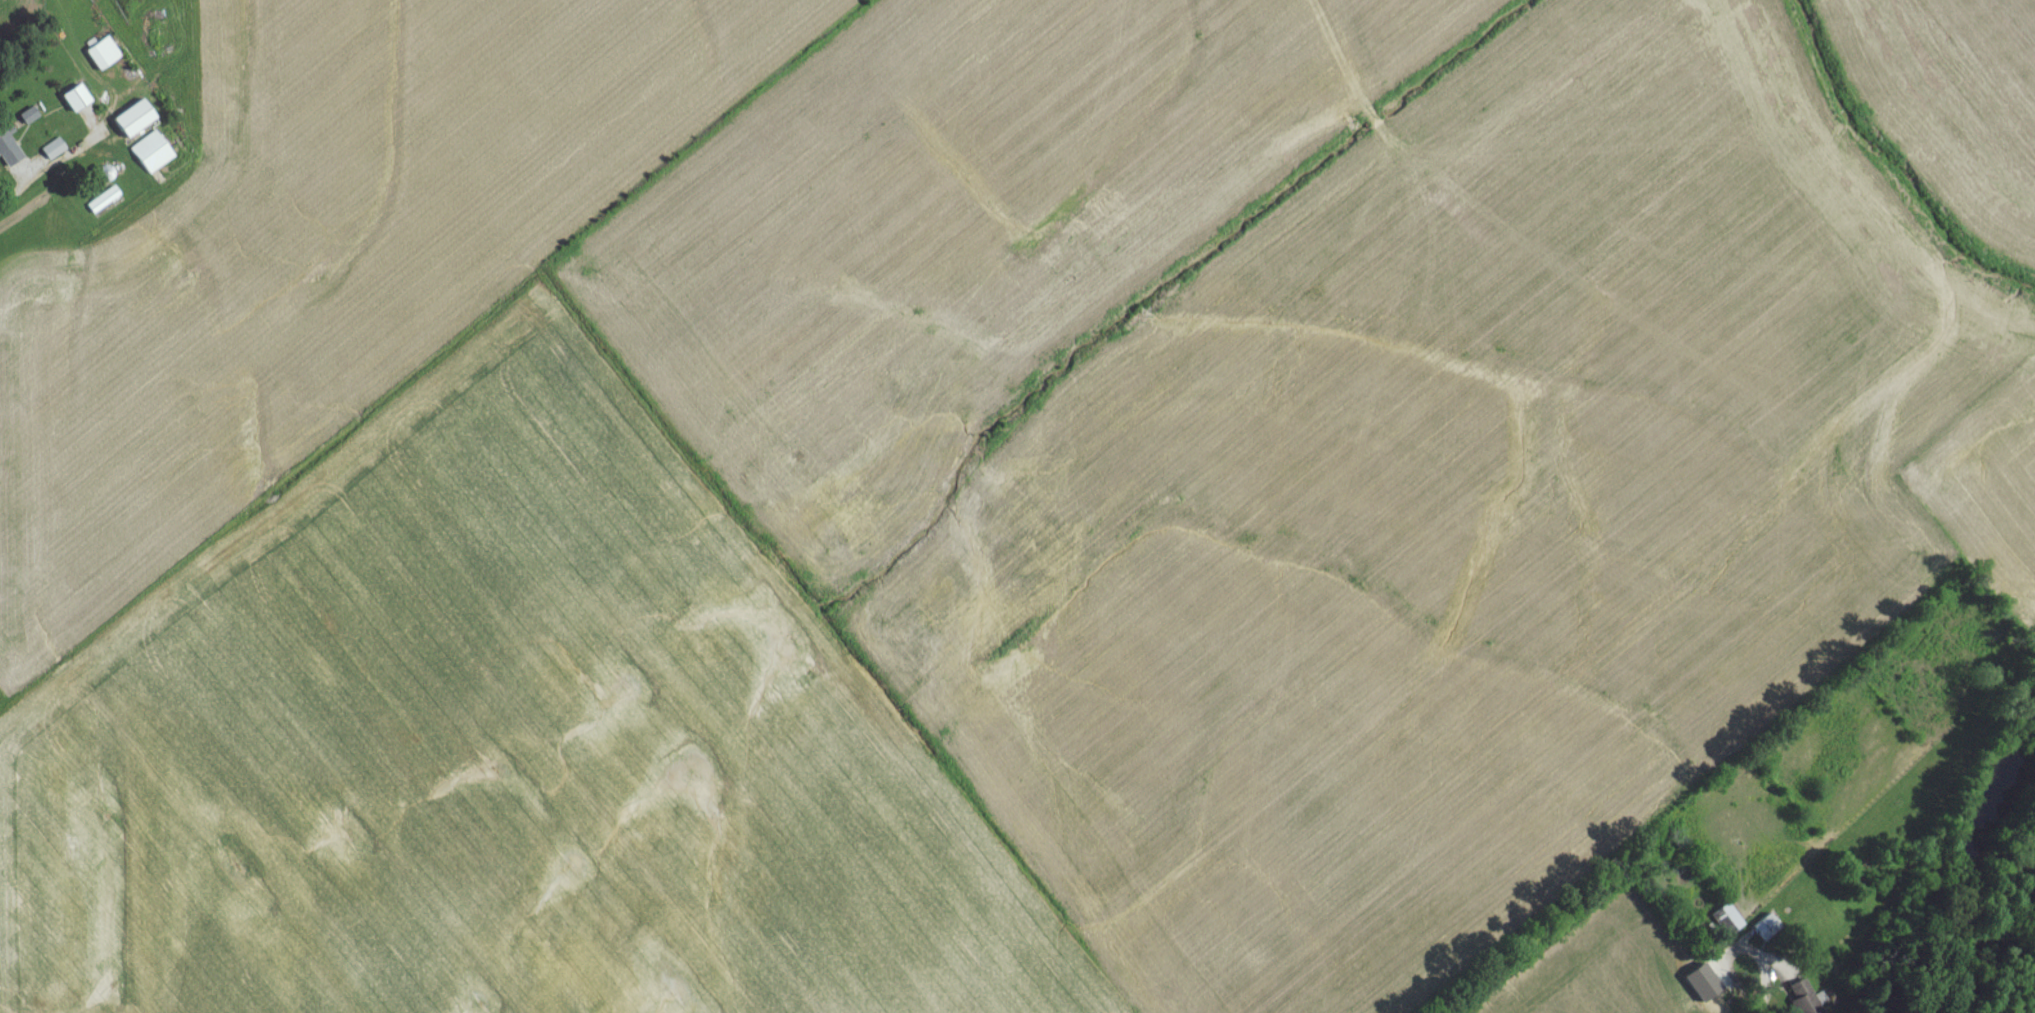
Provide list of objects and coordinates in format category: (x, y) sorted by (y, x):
building: (101, 59)
building: (72, 103)
building: (149, 158)
building: (101, 179)
road: (16, 190)
building: (100, 205)
building: (1765, 932)
road: (1798, 979)

